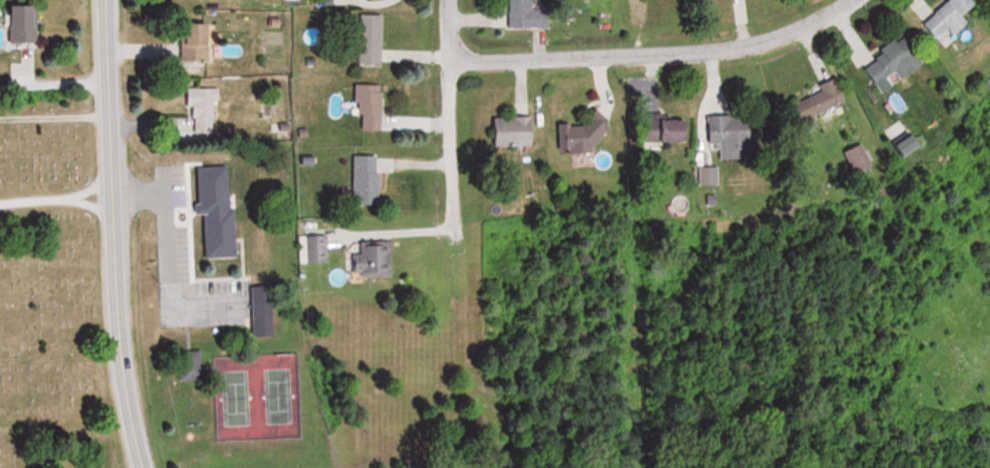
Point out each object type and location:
building: (530, 15)
building: (941, 19)
building: (27, 24)
road: (444, 28)
building: (374, 39)
building: (200, 43)
road: (652, 55)
building: (887, 63)
building: (824, 98)
building: (373, 107)
road: (53, 117)
building: (209, 118)
building: (517, 131)
building: (670, 131)
road: (453, 134)
building: (734, 135)
building: (584, 136)
building: (861, 160)
building: (713, 176)
building: (370, 179)
road: (55, 200)
building: (224, 233)
road: (111, 235)
building: (318, 249)
building: (376, 259)
park: (52, 294)

